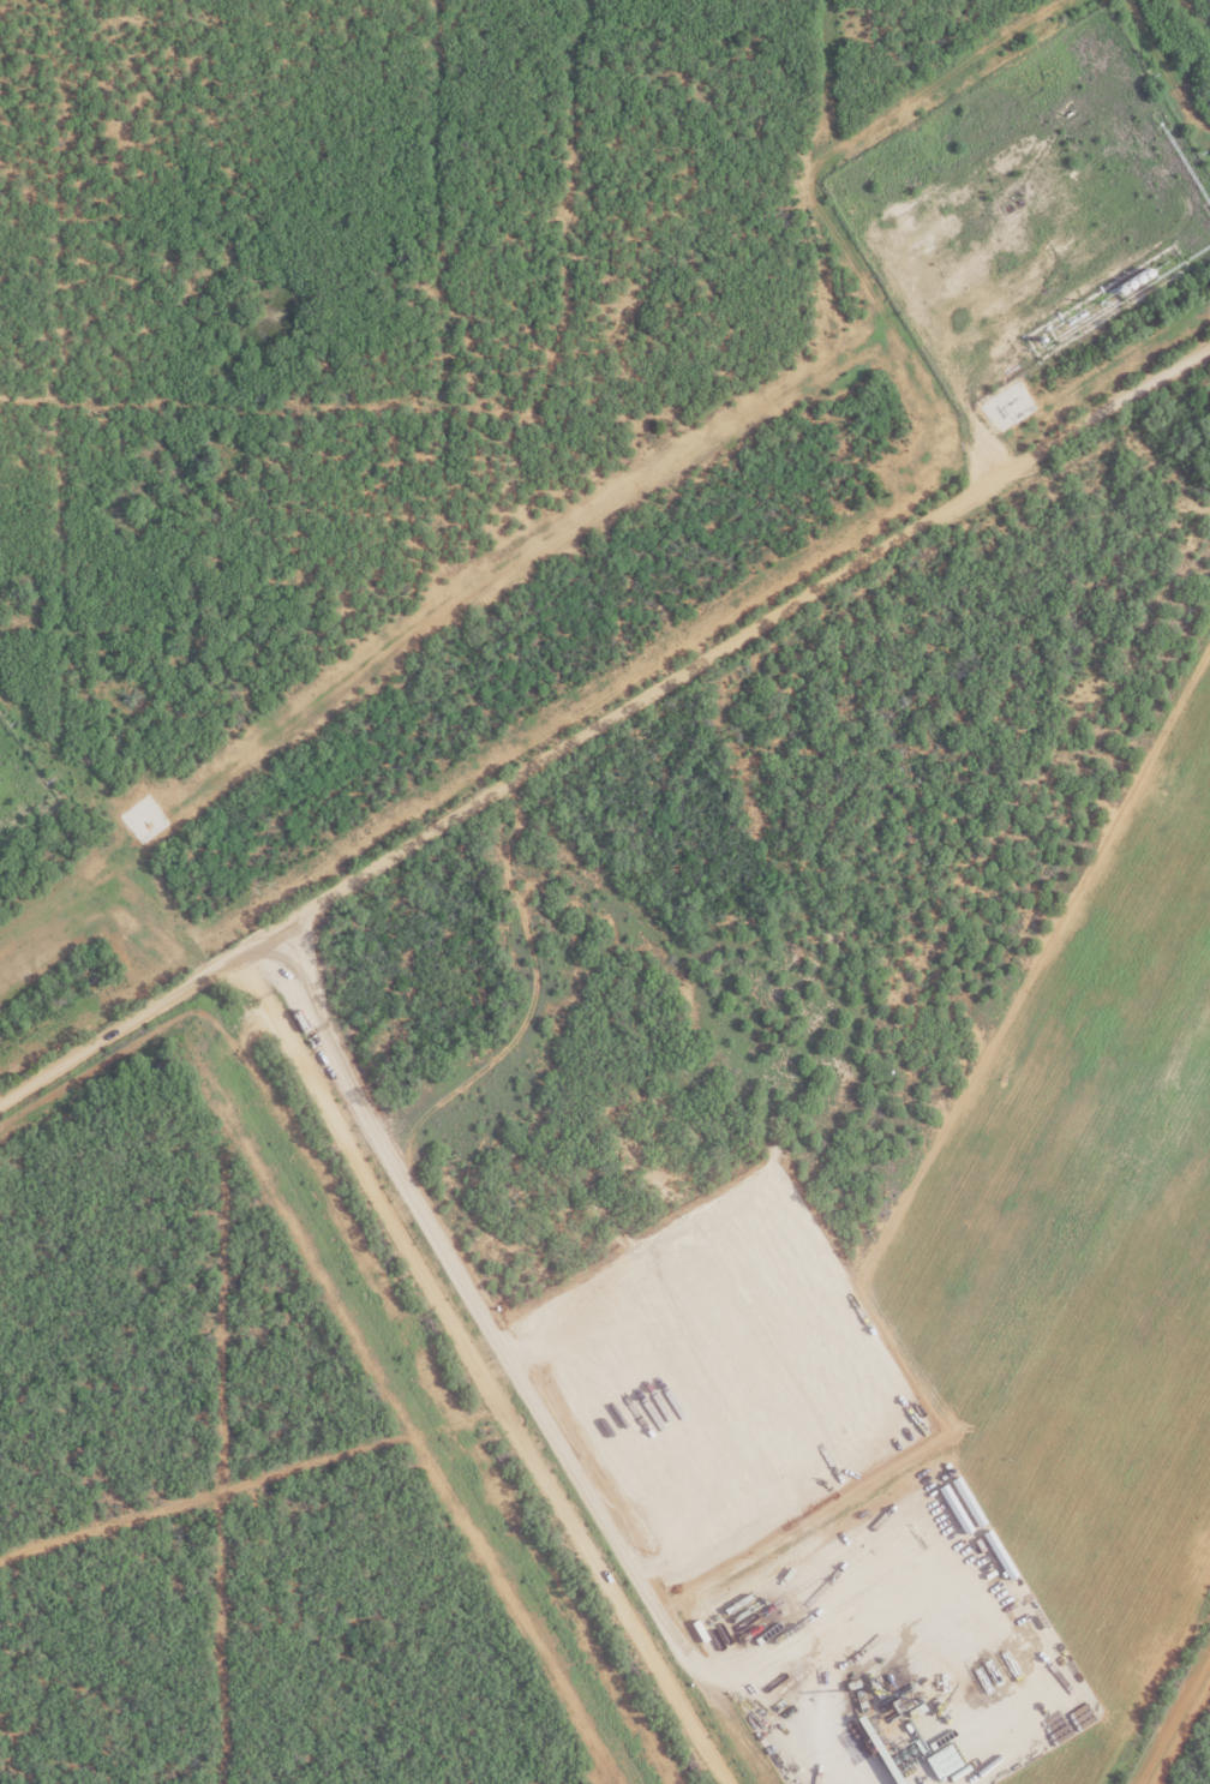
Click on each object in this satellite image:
road: (604, 723)
road: (481, 1370)

